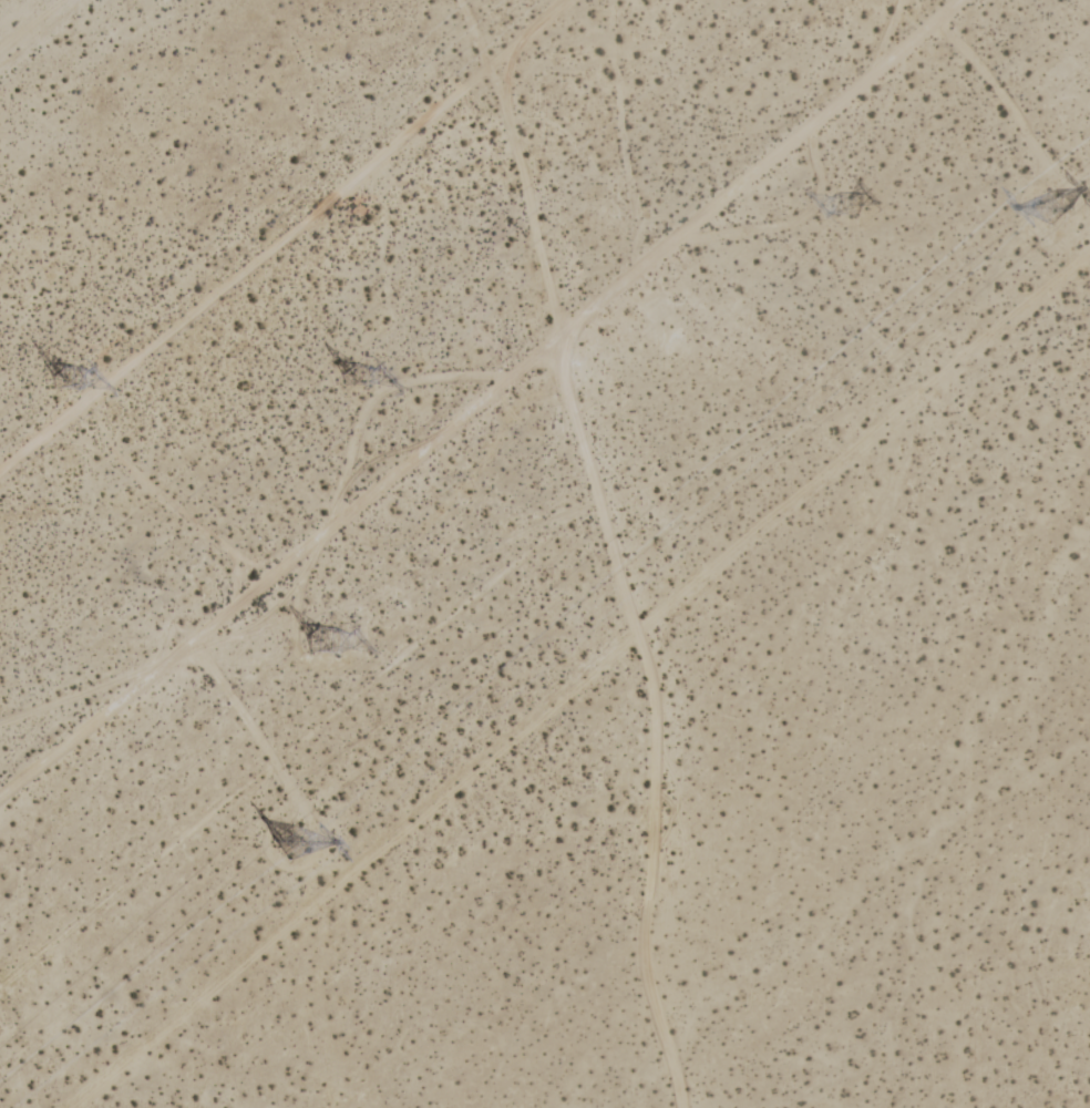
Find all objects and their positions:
power tower: (1042, 206)
power tower: (833, 209)
road: (649, 317)
power tower: (346, 372)
power tower: (71, 375)
road: (467, 394)
power tower: (336, 636)
power tower: (297, 837)

